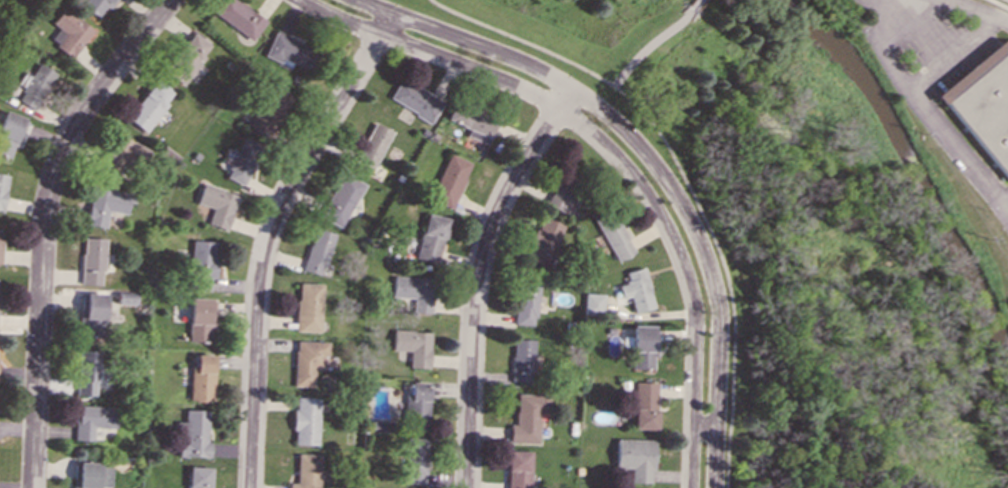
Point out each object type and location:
road: (692, 3)
road: (1000, 3)
building: (95, 5)
road: (977, 8)
road: (1003, 11)
building: (237, 17)
road: (1004, 19)
road: (912, 24)
building: (67, 32)
parking lot: (931, 38)
road: (649, 43)
building: (289, 50)
building: (186, 57)
building: (34, 85)
road: (912, 92)
building: (414, 99)
building: (983, 104)
building: (149, 106)
building: (267, 110)
building: (470, 118)
building: (10, 132)
building: (371, 148)
road: (961, 150)
road: (612, 155)
building: (122, 157)
building: (242, 161)
road: (651, 161)
river: (912, 166)
road: (682, 178)
building: (449, 180)
building: (2, 189)
building: (562, 197)
building: (341, 200)
building: (217, 204)
building: (104, 205)
road: (44, 225)
road: (270, 236)
building: (431, 238)
building: (614, 238)
building: (0, 240)
building: (543, 243)
building: (317, 251)
building: (92, 260)
building: (203, 265)
road: (477, 277)
building: (636, 290)
building: (415, 292)
building: (525, 302)
building: (593, 303)
building: (309, 307)
building: (93, 313)
building: (200, 318)
building: (414, 346)
building: (642, 346)
building: (522, 360)
building: (308, 361)
building: (86, 372)
building: (201, 378)
building: (644, 405)
building: (417, 406)
building: (526, 417)
building: (93, 419)
building: (306, 421)
building: (193, 434)
building: (634, 458)
building: (415, 460)
building: (517, 469)
building: (306, 471)
building: (91, 475)
building: (198, 477)

